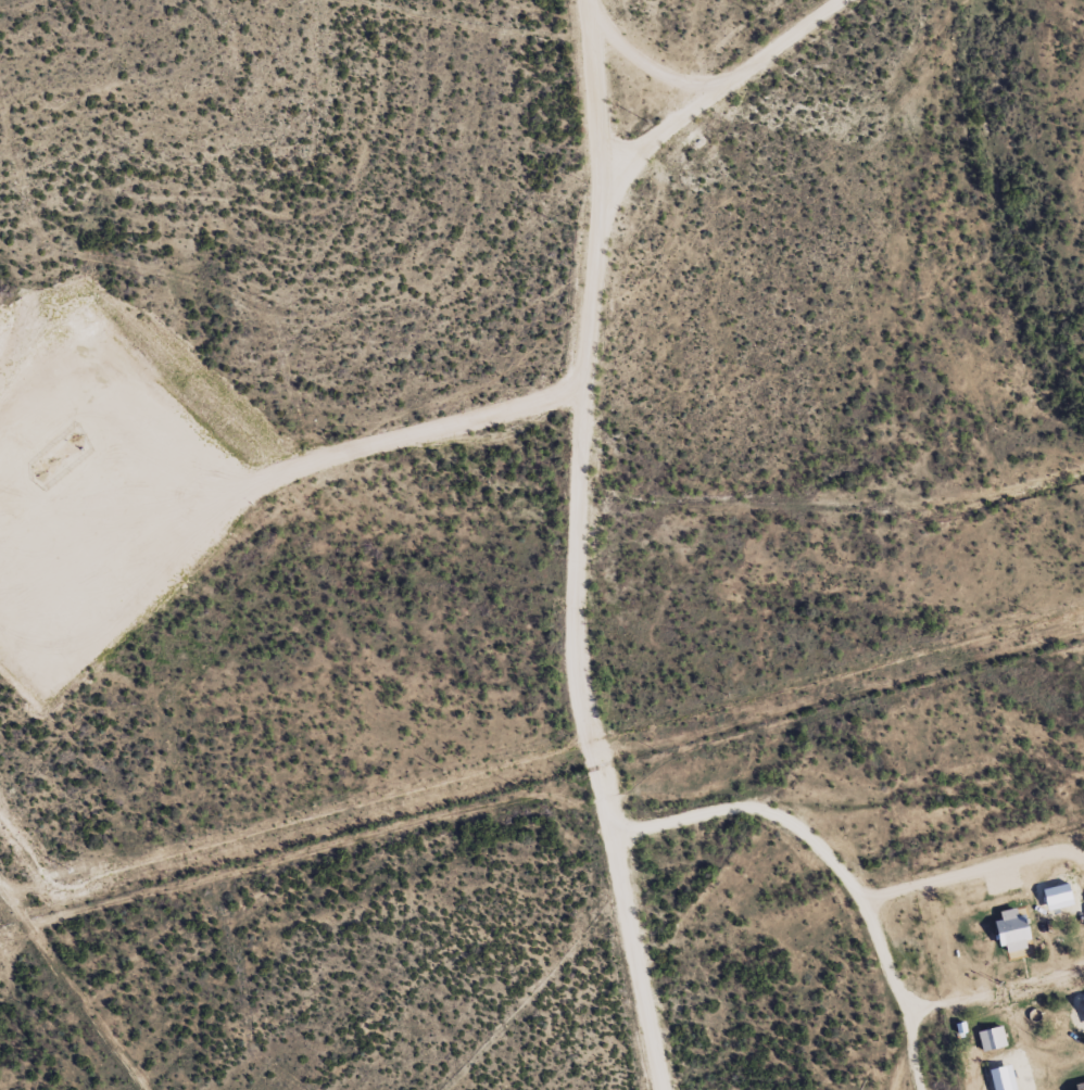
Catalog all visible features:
road: (1019, 43)
road: (580, 405)
road: (837, 531)
road: (963, 737)
road: (891, 785)
building: (1013, 933)
road: (1048, 949)
building: (991, 1039)
building: (1080, 1086)

